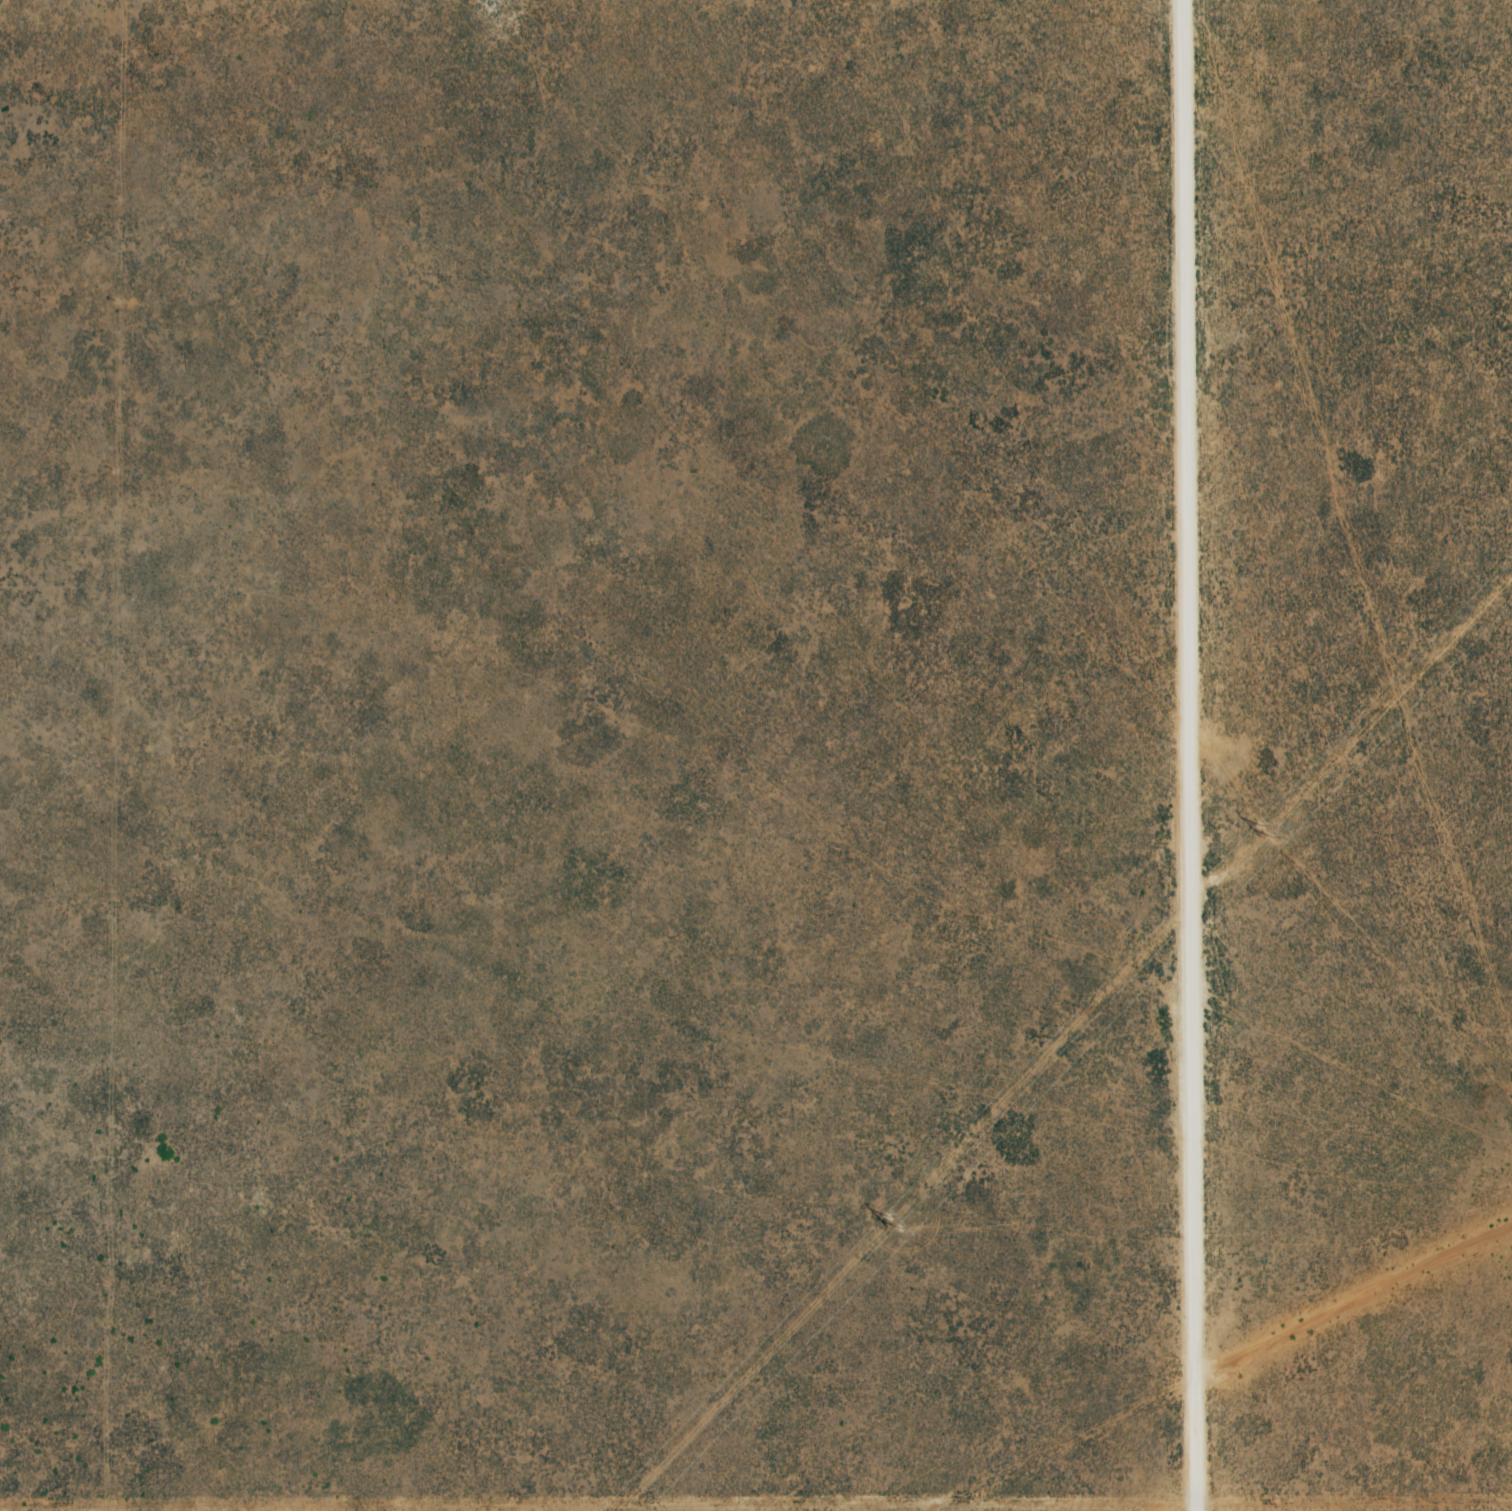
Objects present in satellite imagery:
road: (1191, 755)
power tower: (1267, 830)
power tower: (895, 1223)

